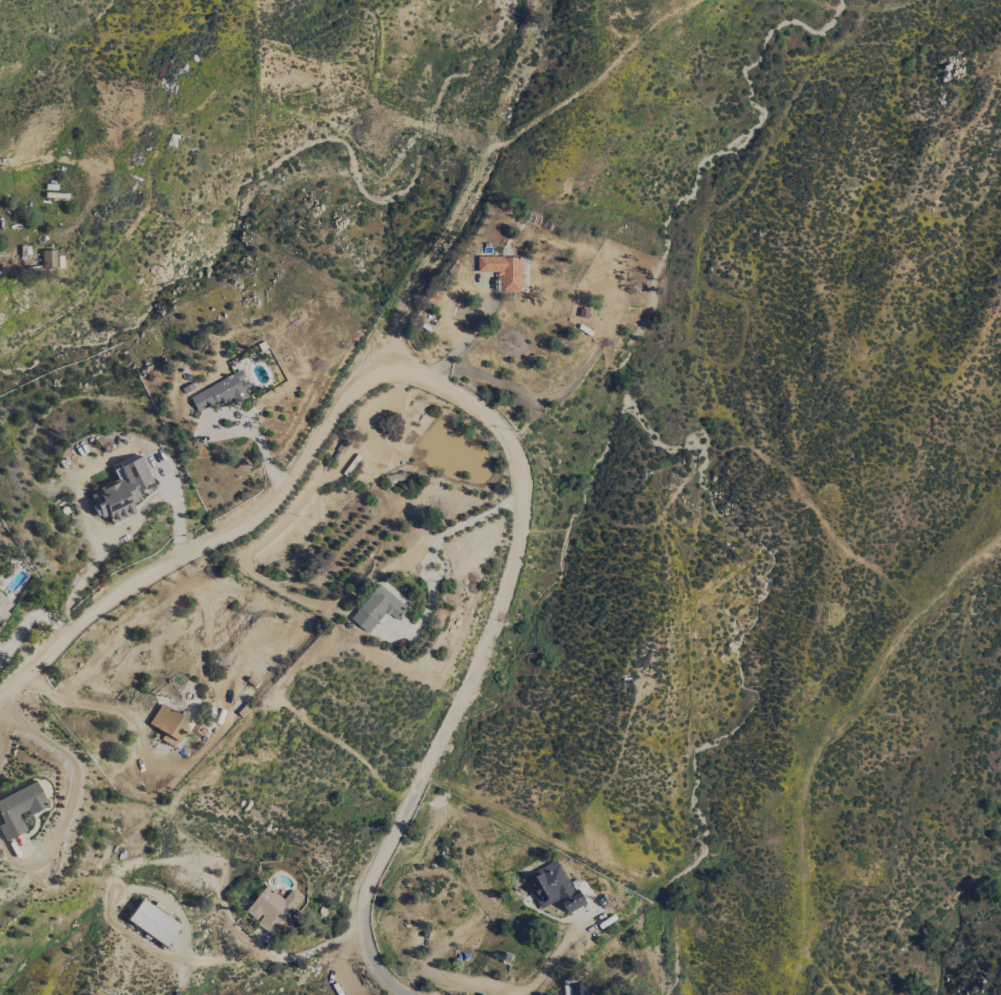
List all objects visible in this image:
building: (504, 270)
building: (222, 391)
road: (431, 545)
road: (199, 550)
building: (3, 606)
building: (377, 608)
road: (32, 616)
road: (482, 652)
road: (99, 707)
road: (4, 713)
building: (170, 729)
road: (5, 736)
road: (68, 798)
building: (18, 809)
building: (553, 887)
building: (272, 907)
building: (151, 922)
road: (270, 955)
road: (549, 958)

